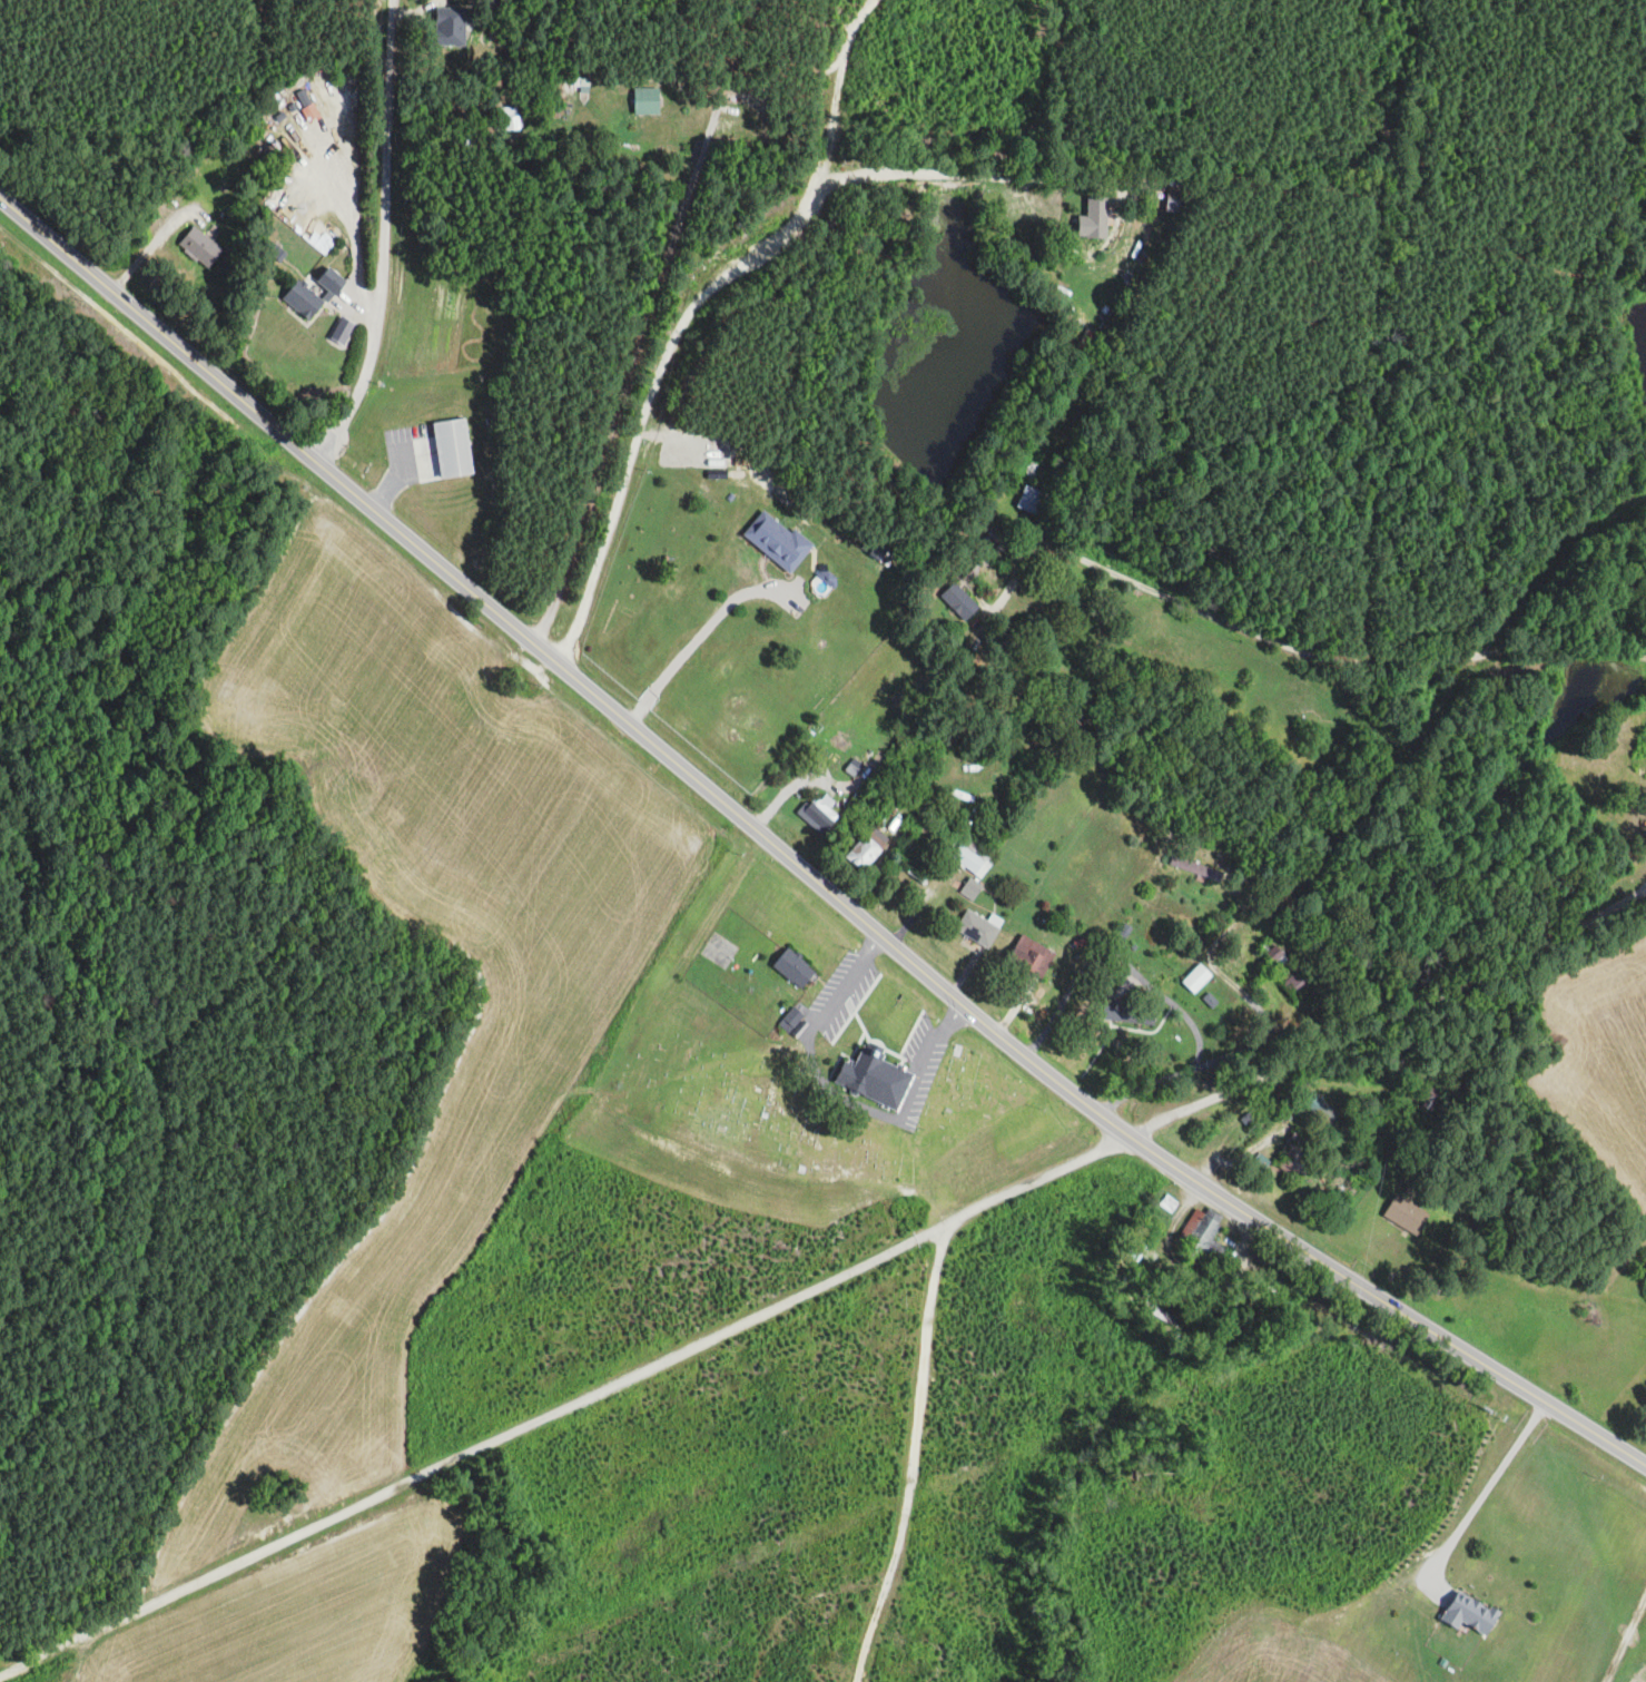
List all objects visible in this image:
building: (452, 31)
building: (581, 85)
building: (303, 98)
building: (645, 100)
building: (510, 118)
road: (977, 175)
road: (1277, 180)
building: (1170, 194)
building: (1092, 216)
road: (1422, 217)
road: (383, 237)
road: (155, 243)
building: (200, 247)
building: (332, 281)
building: (304, 301)
road: (688, 307)
road: (644, 323)
building: (342, 329)
building: (453, 449)
building: (1032, 499)
building: (995, 539)
building: (777, 541)
building: (877, 549)
building: (827, 573)
building: (960, 604)
road: (1288, 647)
road: (689, 648)
road: (778, 795)
building: (816, 812)
building: (889, 817)
road: (893, 826)
building: (865, 853)
building: (973, 857)
road: (798, 866)
building: (1195, 869)
building: (969, 888)
road: (1637, 892)
road: (919, 903)
building: (1292, 924)
building: (1067, 927)
building: (980, 933)
building: (1123, 933)
road: (871, 945)
park: (718, 950)
building: (1272, 952)
road: (1117, 956)
building: (1028, 957)
building: (794, 967)
road: (962, 976)
building: (1294, 977)
building: (1196, 978)
road: (838, 991)
parking lot: (841, 995)
building: (1209, 1001)
road: (1015, 1005)
building: (1132, 1013)
road: (1390, 1017)
building: (790, 1019)
road: (950, 1021)
building: (798, 1030)
road: (1263, 1036)
crop: (1601, 1053)
parking lot: (920, 1069)
road: (918, 1076)
building: (875, 1078)
road: (829, 1090)
road: (1270, 1091)
park: (805, 1099)
building: (1320, 1108)
building: (1295, 1151)
road: (1243, 1153)
building: (1409, 1190)
building: (1169, 1203)
building: (1406, 1214)
road: (1220, 1216)
building: (1202, 1238)
building: (1136, 1241)
crop: (1640, 1246)
road: (1186, 1272)
building: (1173, 1276)
building: (1162, 1315)
crop: (1557, 1338)
road: (559, 1408)
road: (907, 1481)
road: (1478, 1499)
road: (437, 1574)
building: (1467, 1613)
crop: (295, 1615)
road: (859, 1616)
crop: (1595, 1619)
road: (1624, 1637)
road: (100, 1639)
crop: (1283, 1649)
road: (79, 1653)
crop: (1630, 1666)

